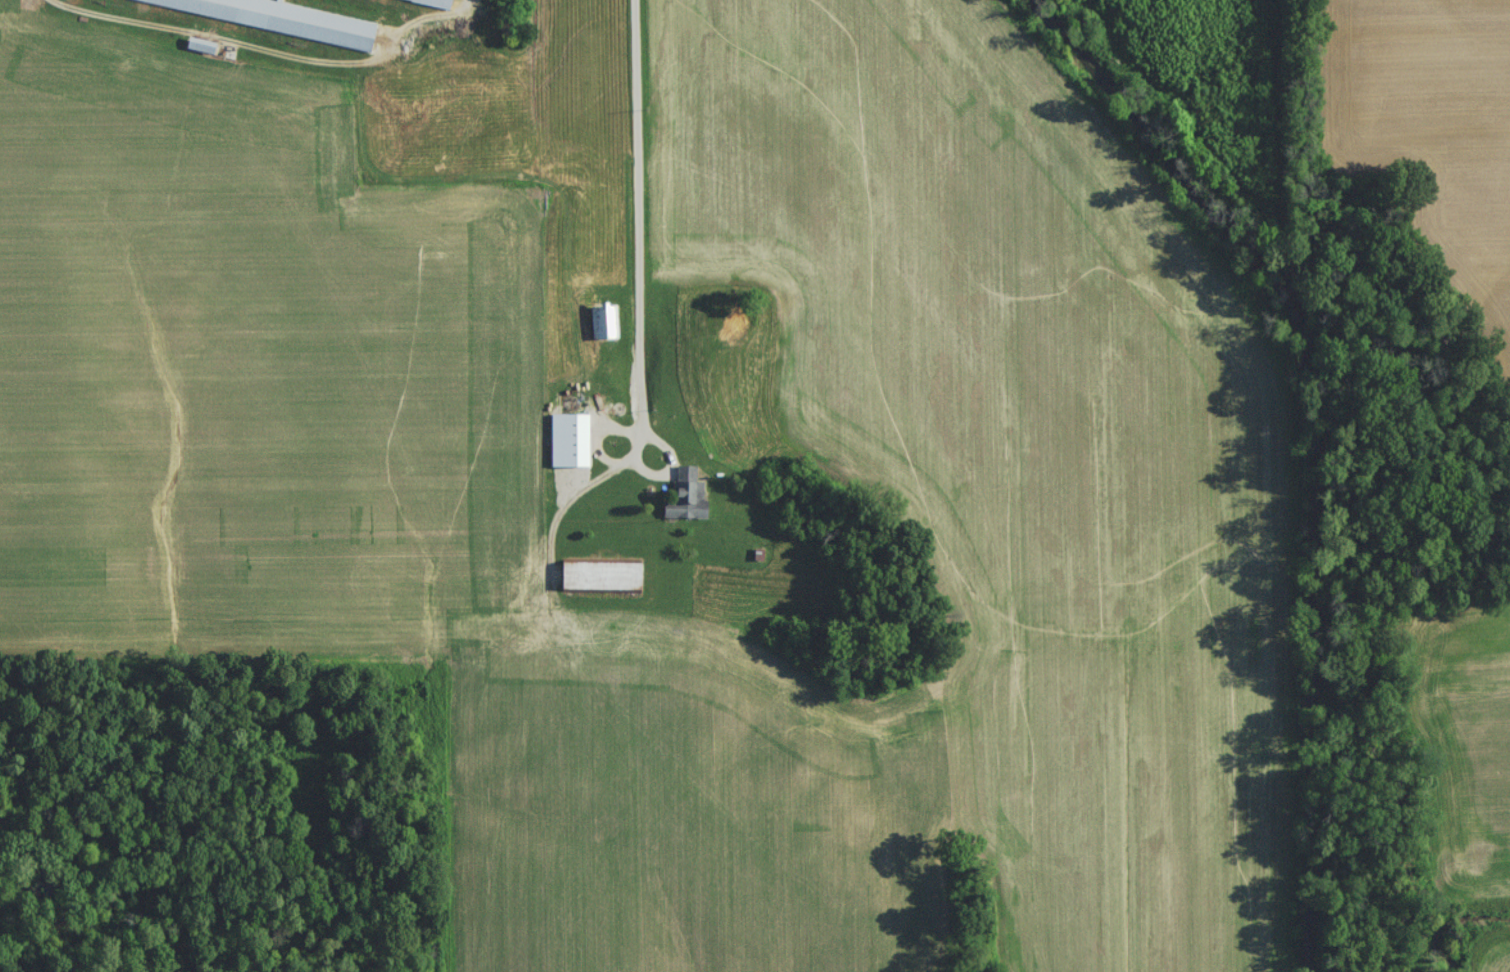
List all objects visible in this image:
building: (438, 2)
building: (268, 18)
road: (640, 226)
building: (601, 326)
building: (572, 431)
building: (687, 500)
building: (602, 580)

